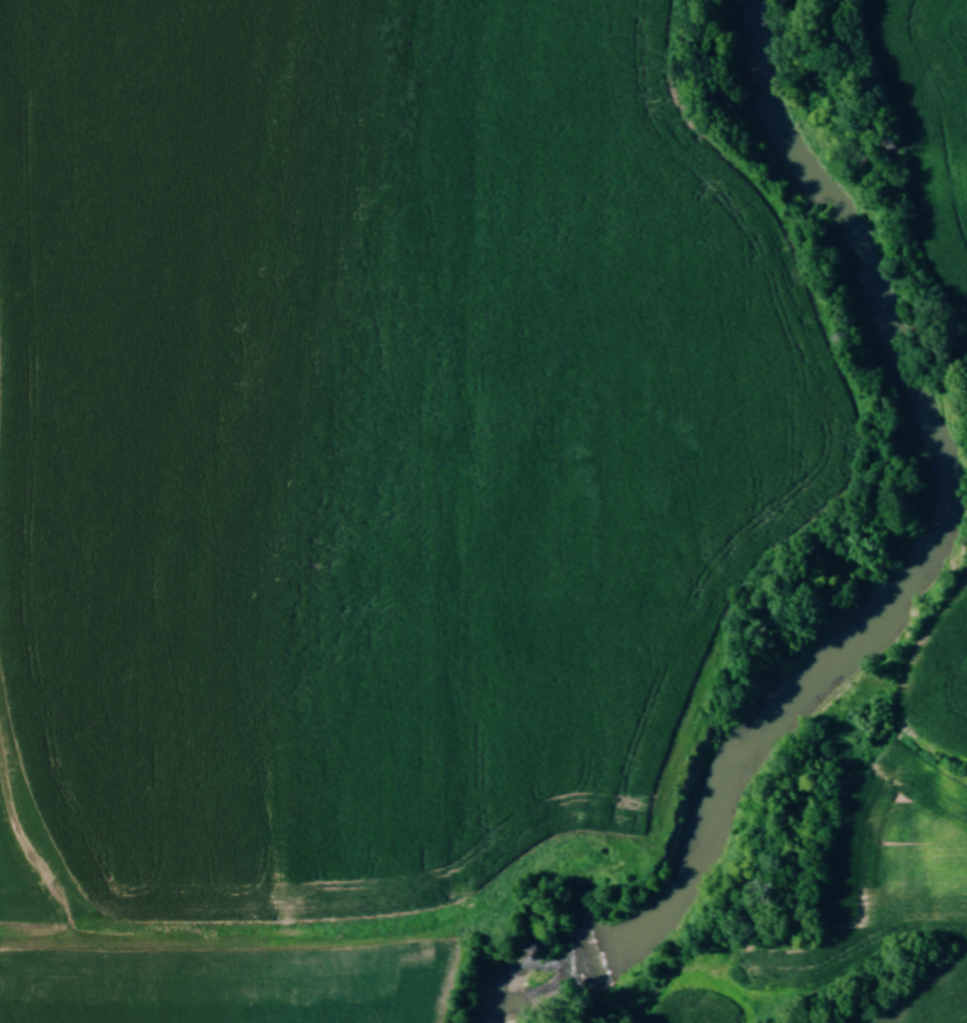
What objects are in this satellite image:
river: (904, 582)

